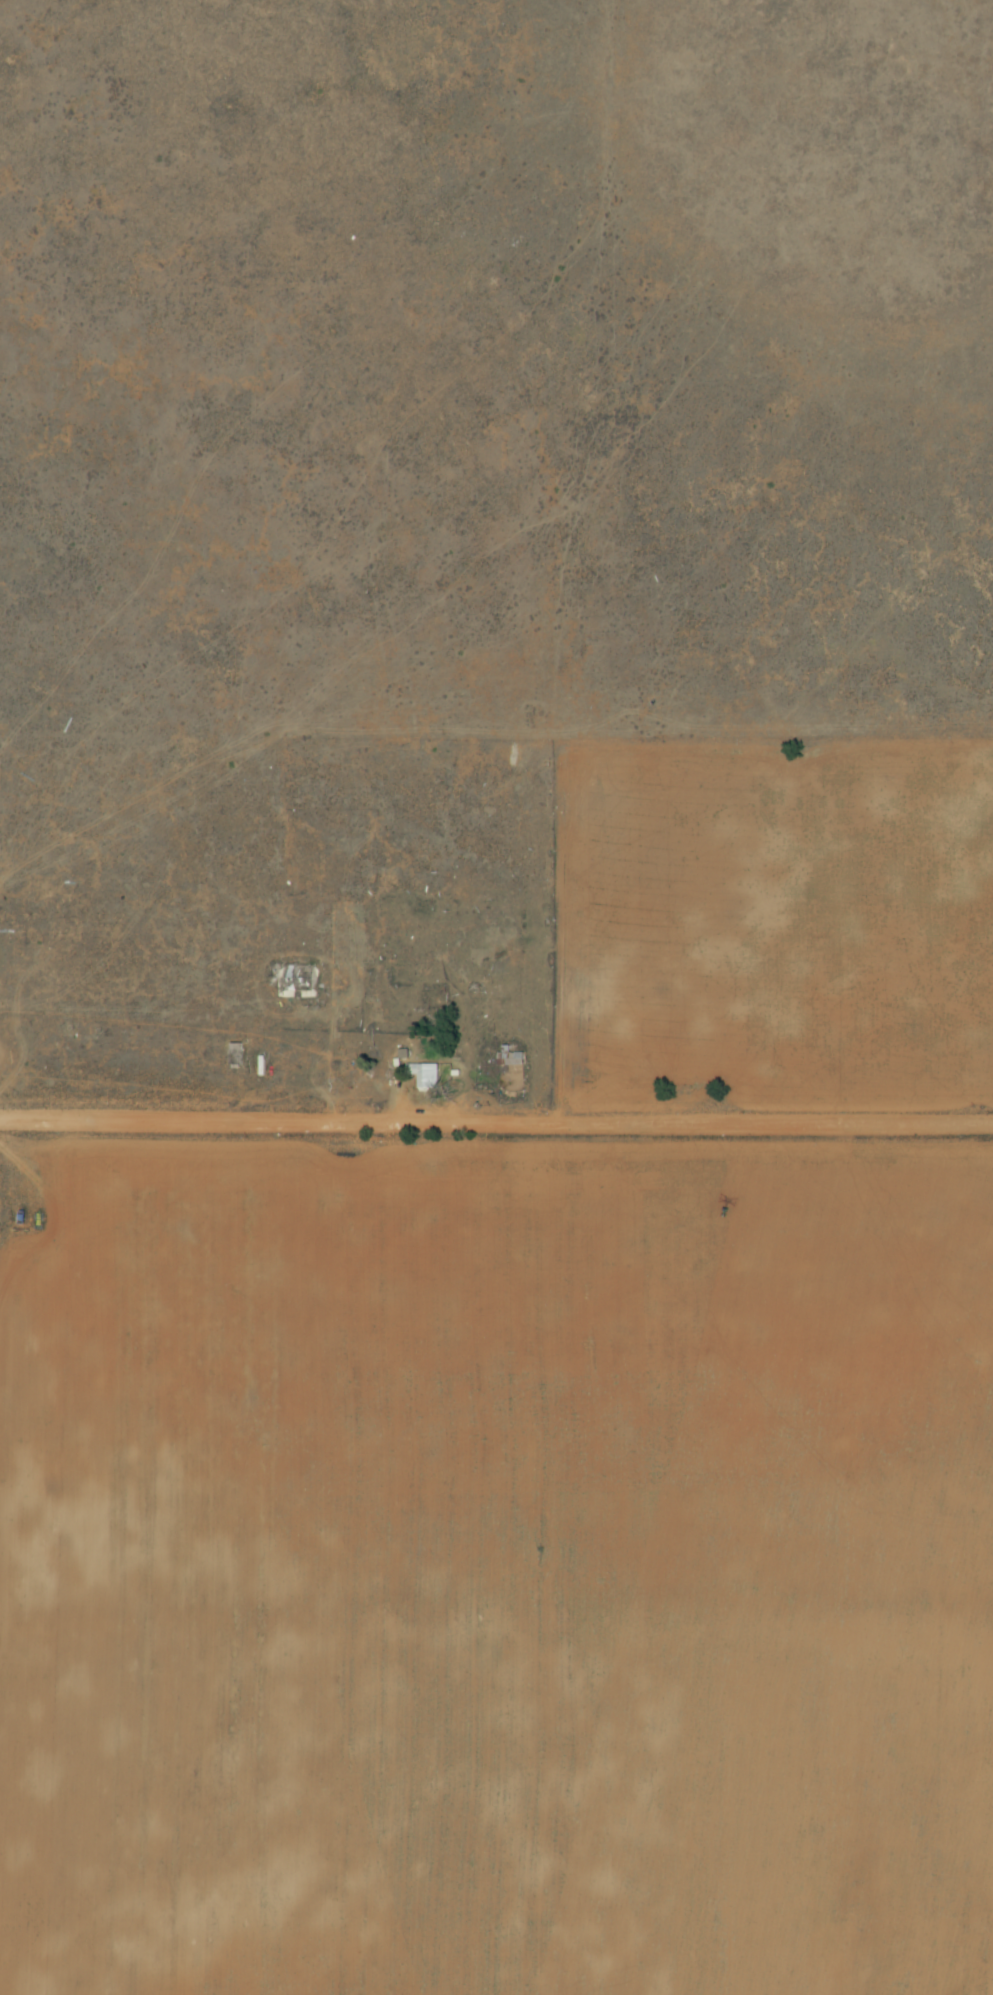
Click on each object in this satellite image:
building: (294, 984)
building: (234, 1054)
building: (509, 1056)
building: (418, 1070)
road: (496, 1128)

